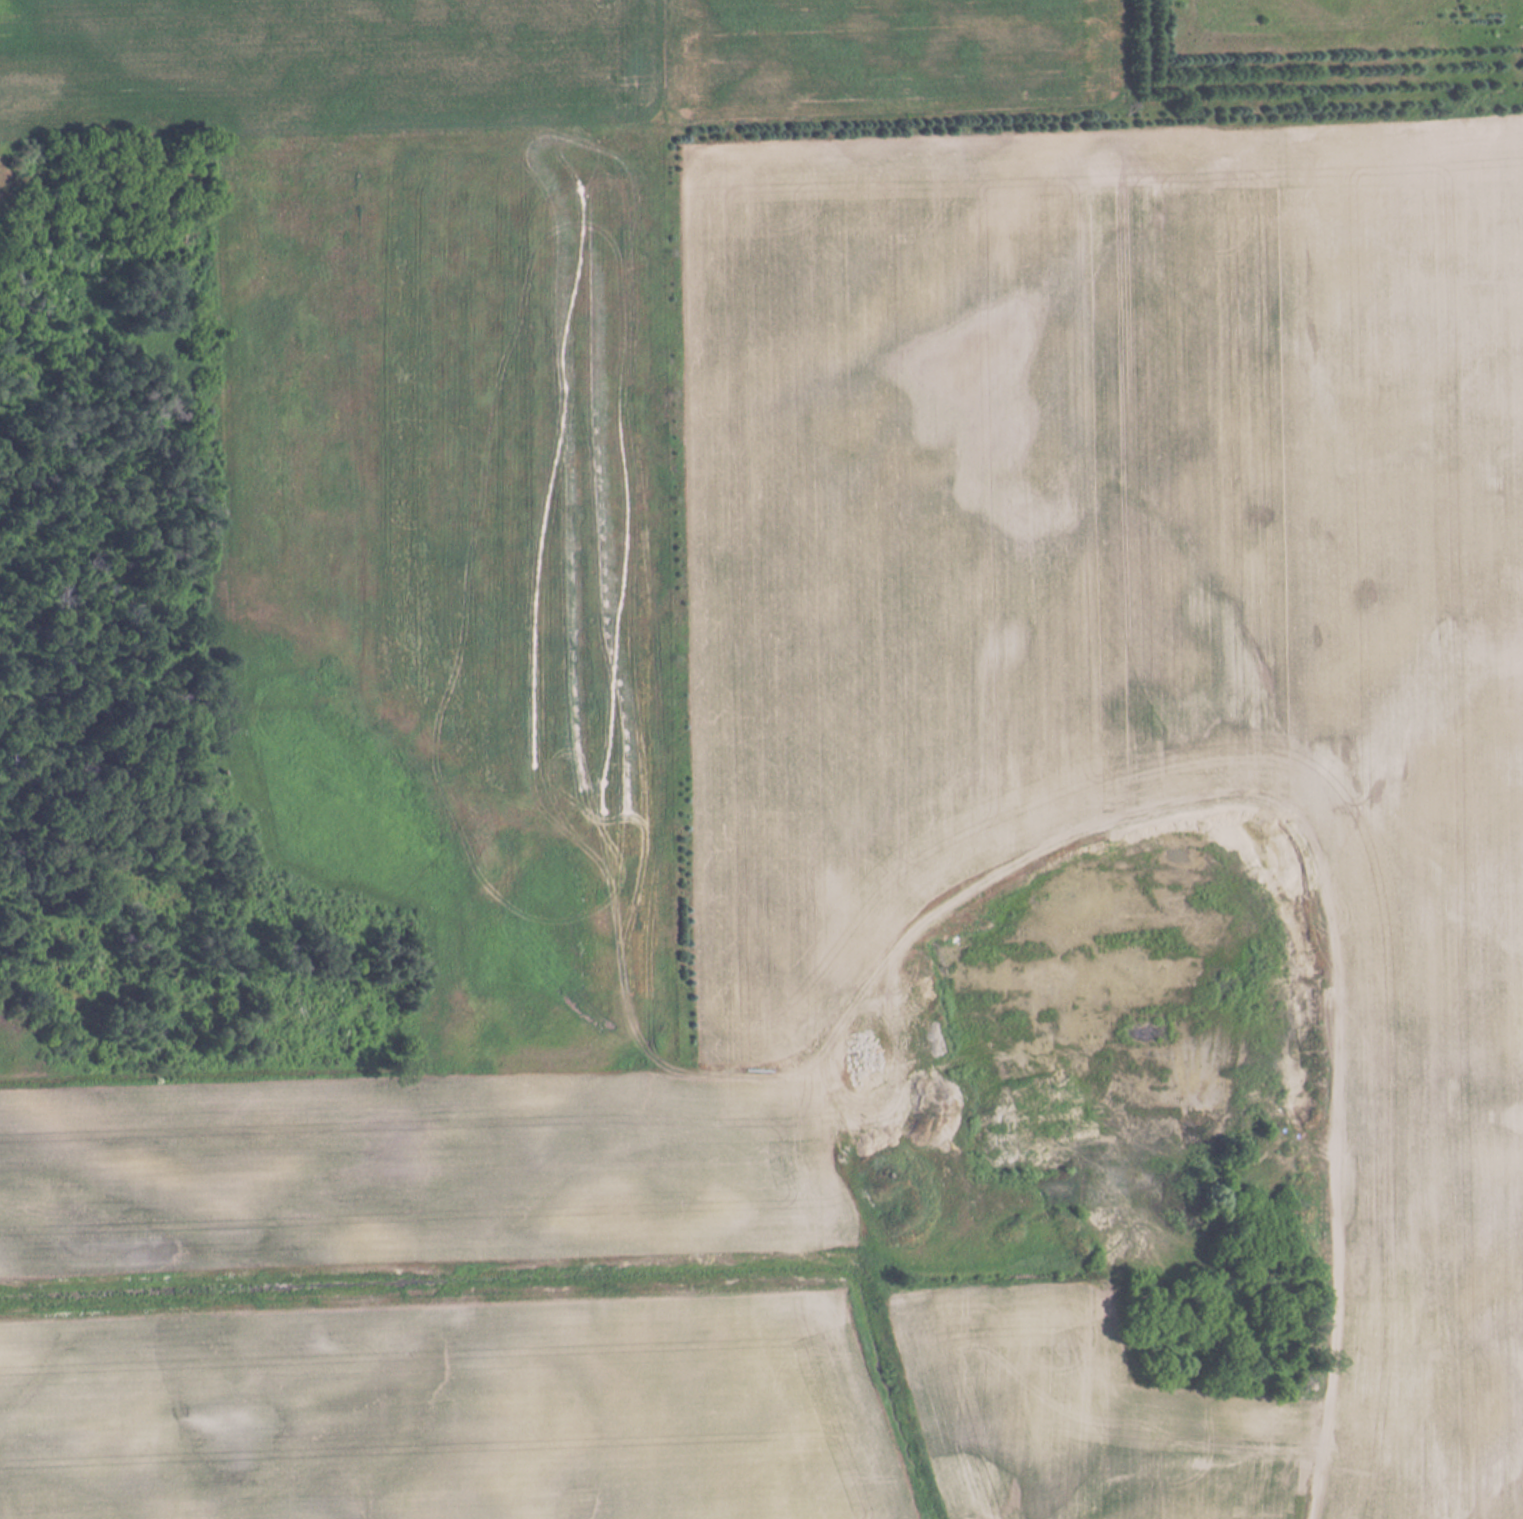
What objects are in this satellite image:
road: (1310, 1447)

